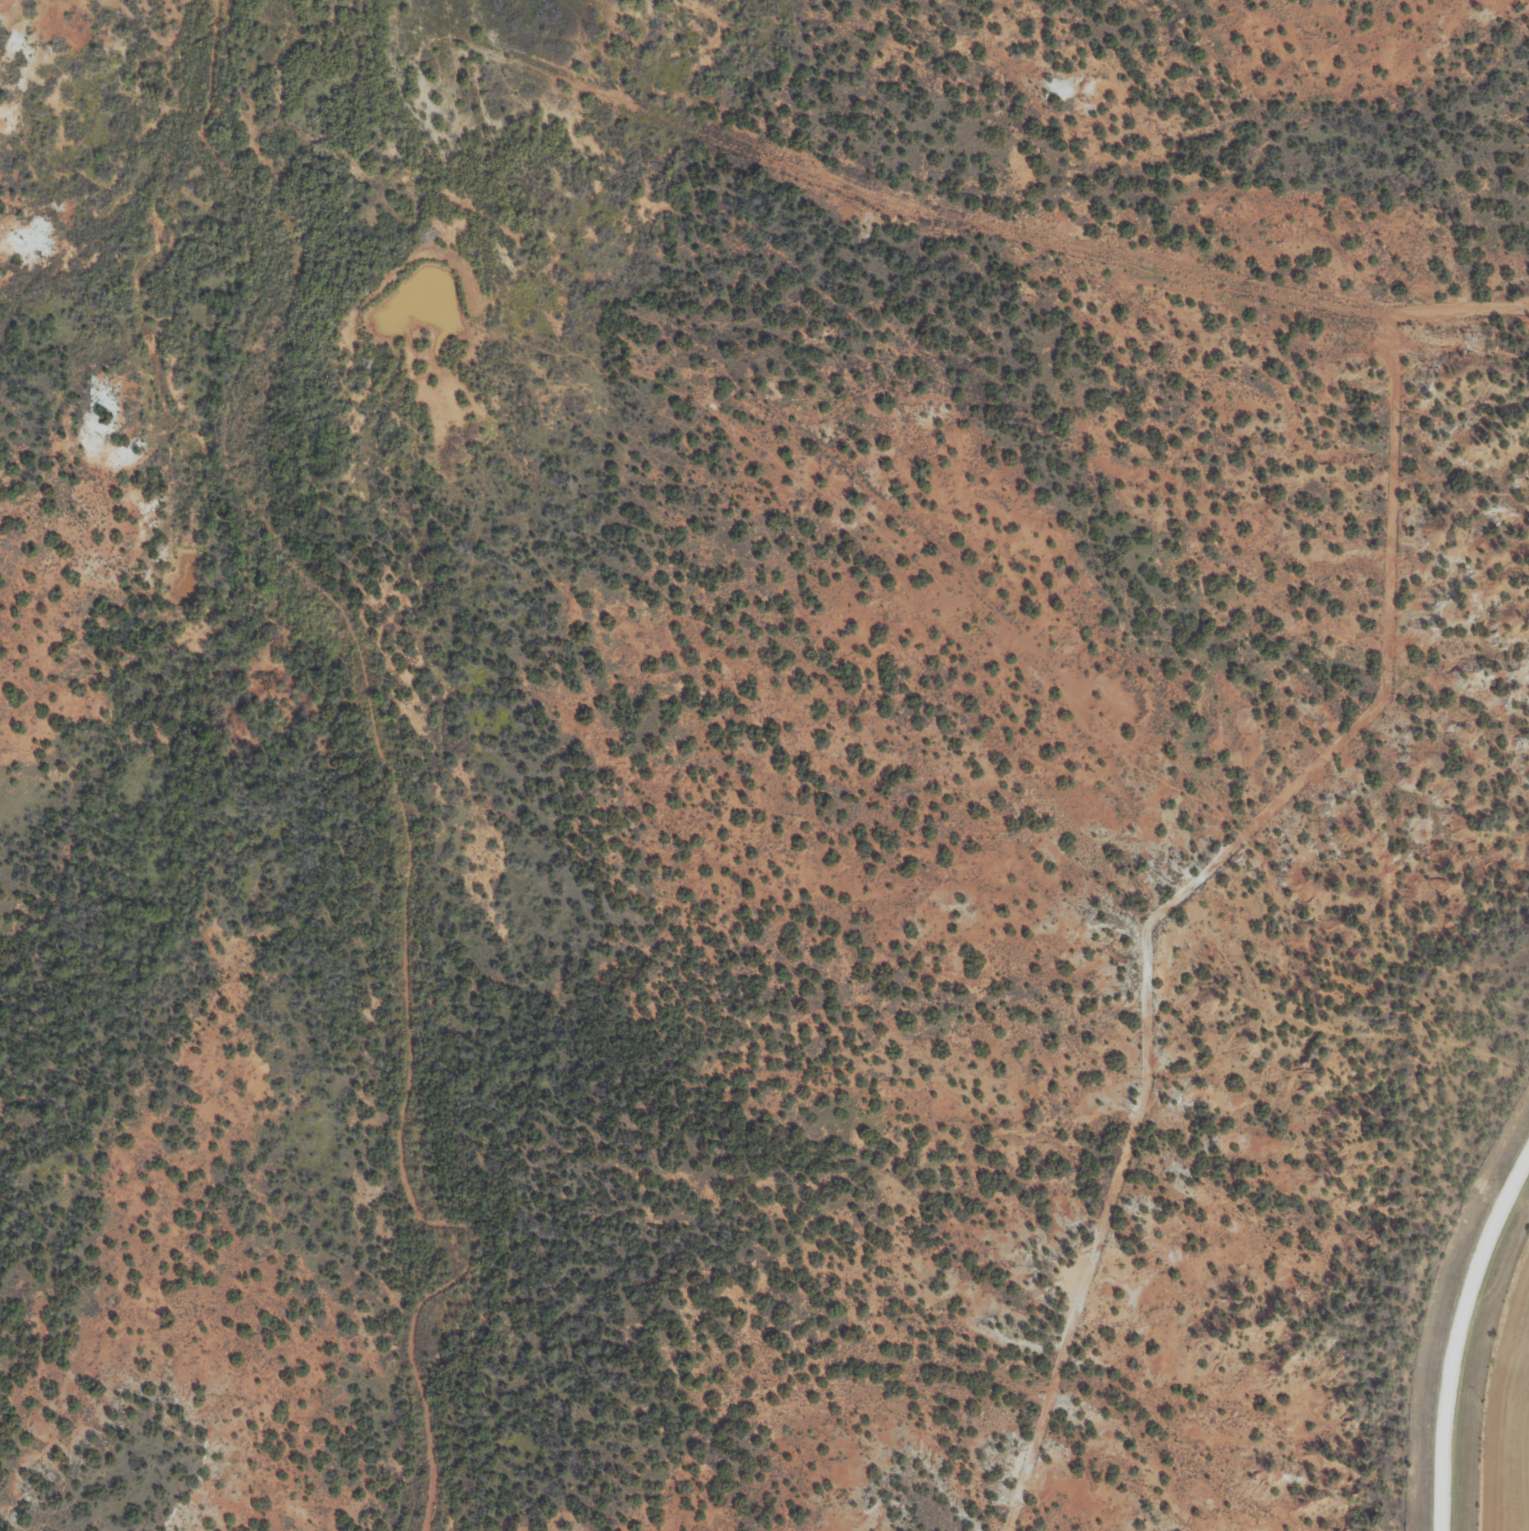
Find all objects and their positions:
road: (1459, 1339)

